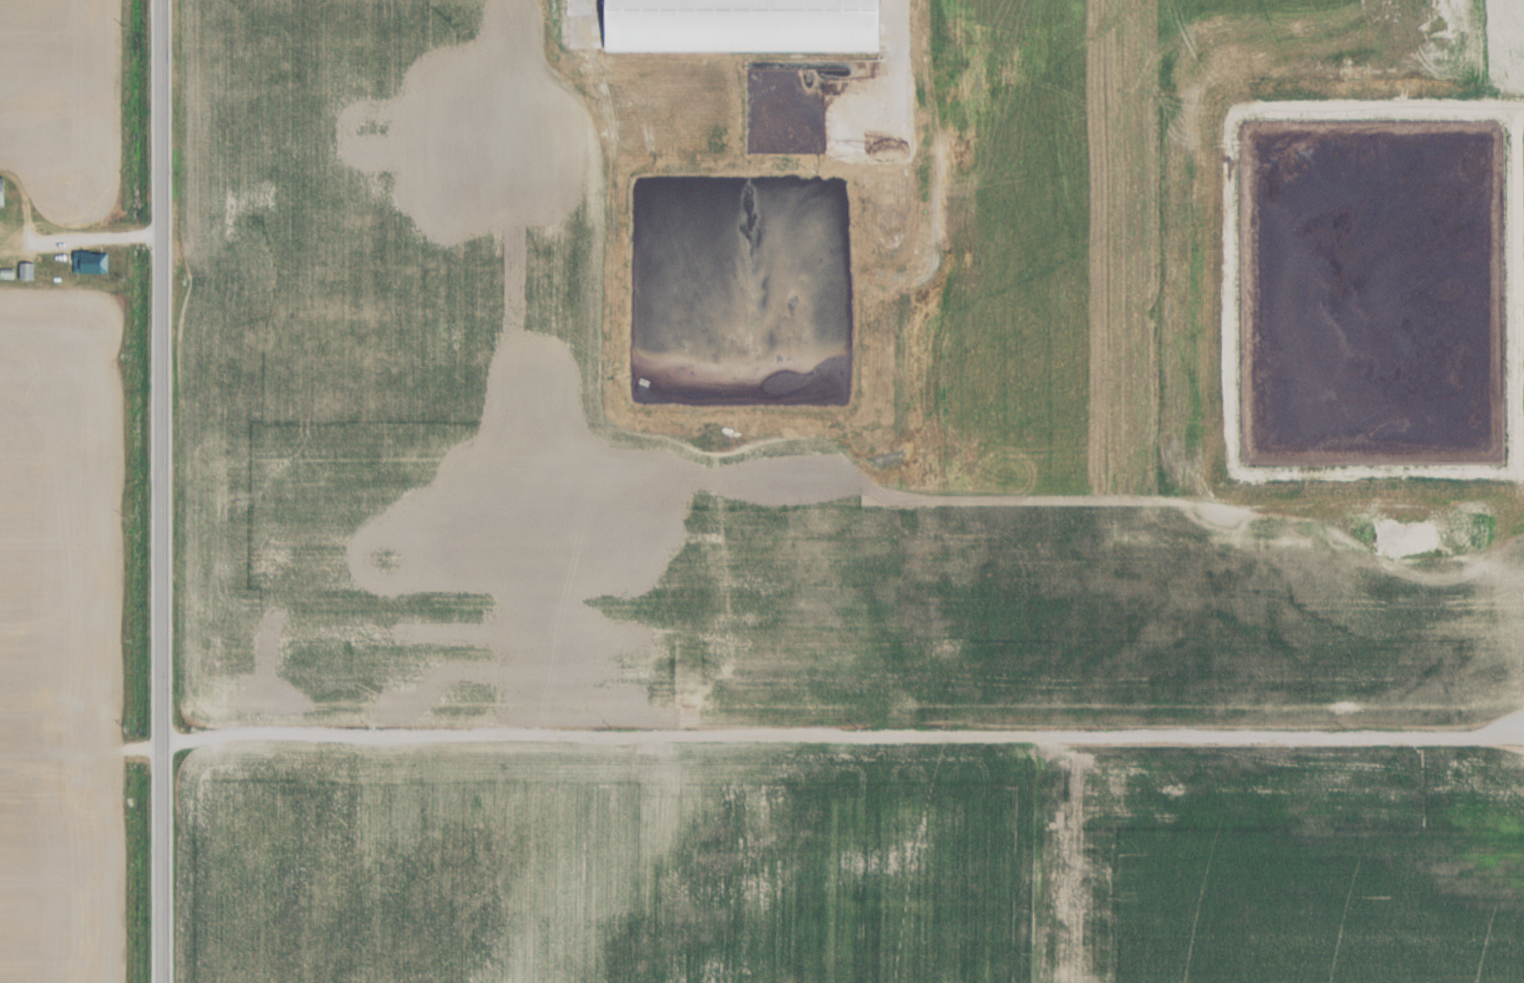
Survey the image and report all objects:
building: (739, 24)
building: (1, 190)
building: (90, 261)
building: (26, 270)
road: (164, 491)

